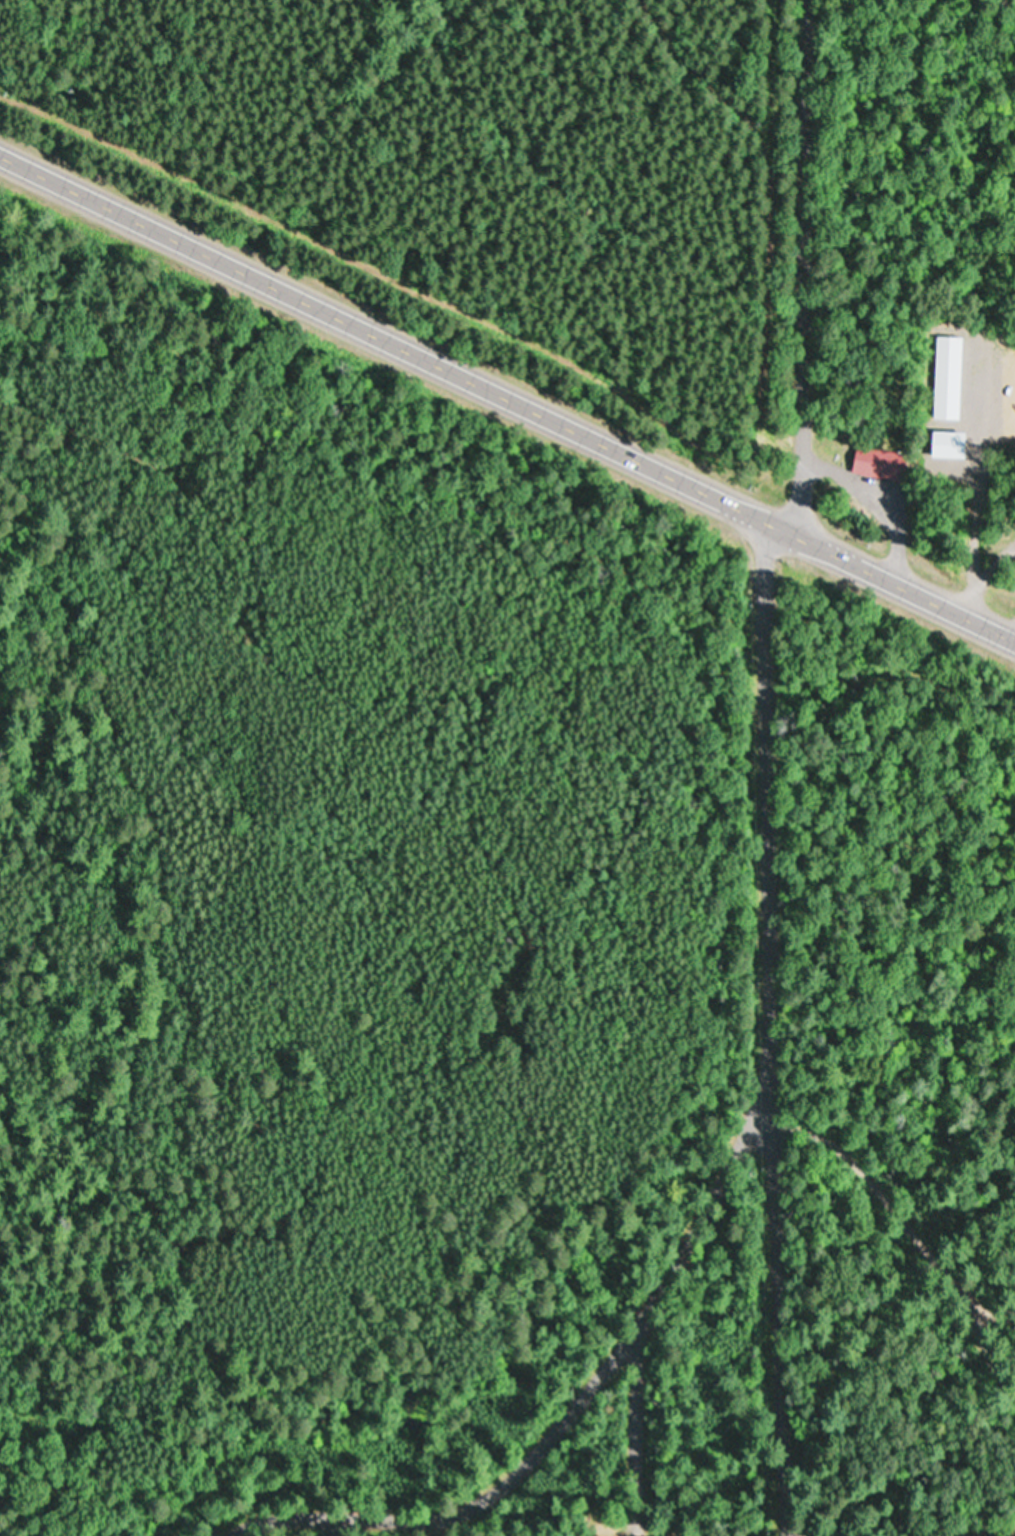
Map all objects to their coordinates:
road: (807, 267)
road: (507, 393)
building: (878, 463)
road: (715, 1173)
road: (762, 1400)

